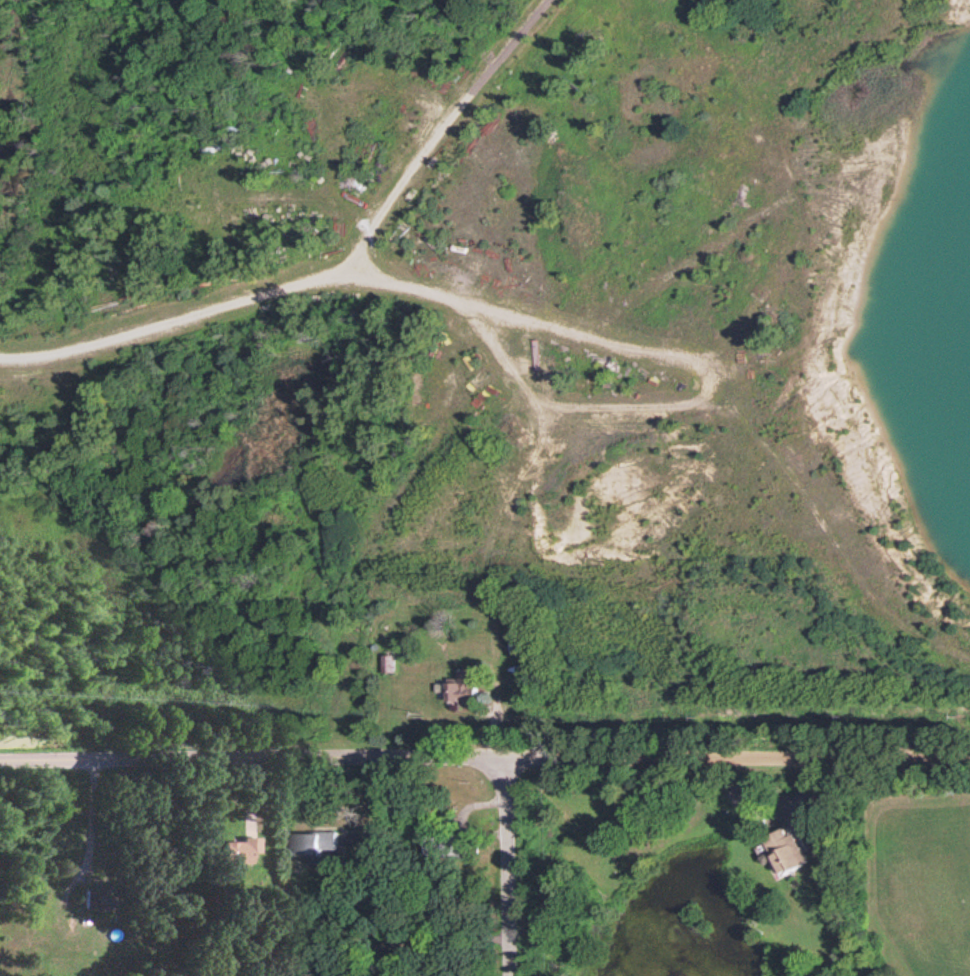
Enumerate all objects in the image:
road: (349, 93)
road: (438, 132)
road: (293, 195)
road: (239, 299)
road: (694, 407)
building: (460, 685)
road: (754, 756)
road: (269, 758)
road: (86, 819)
building: (317, 844)
building: (434, 845)
building: (236, 849)
building: (787, 850)
road: (507, 866)
building: (94, 898)

